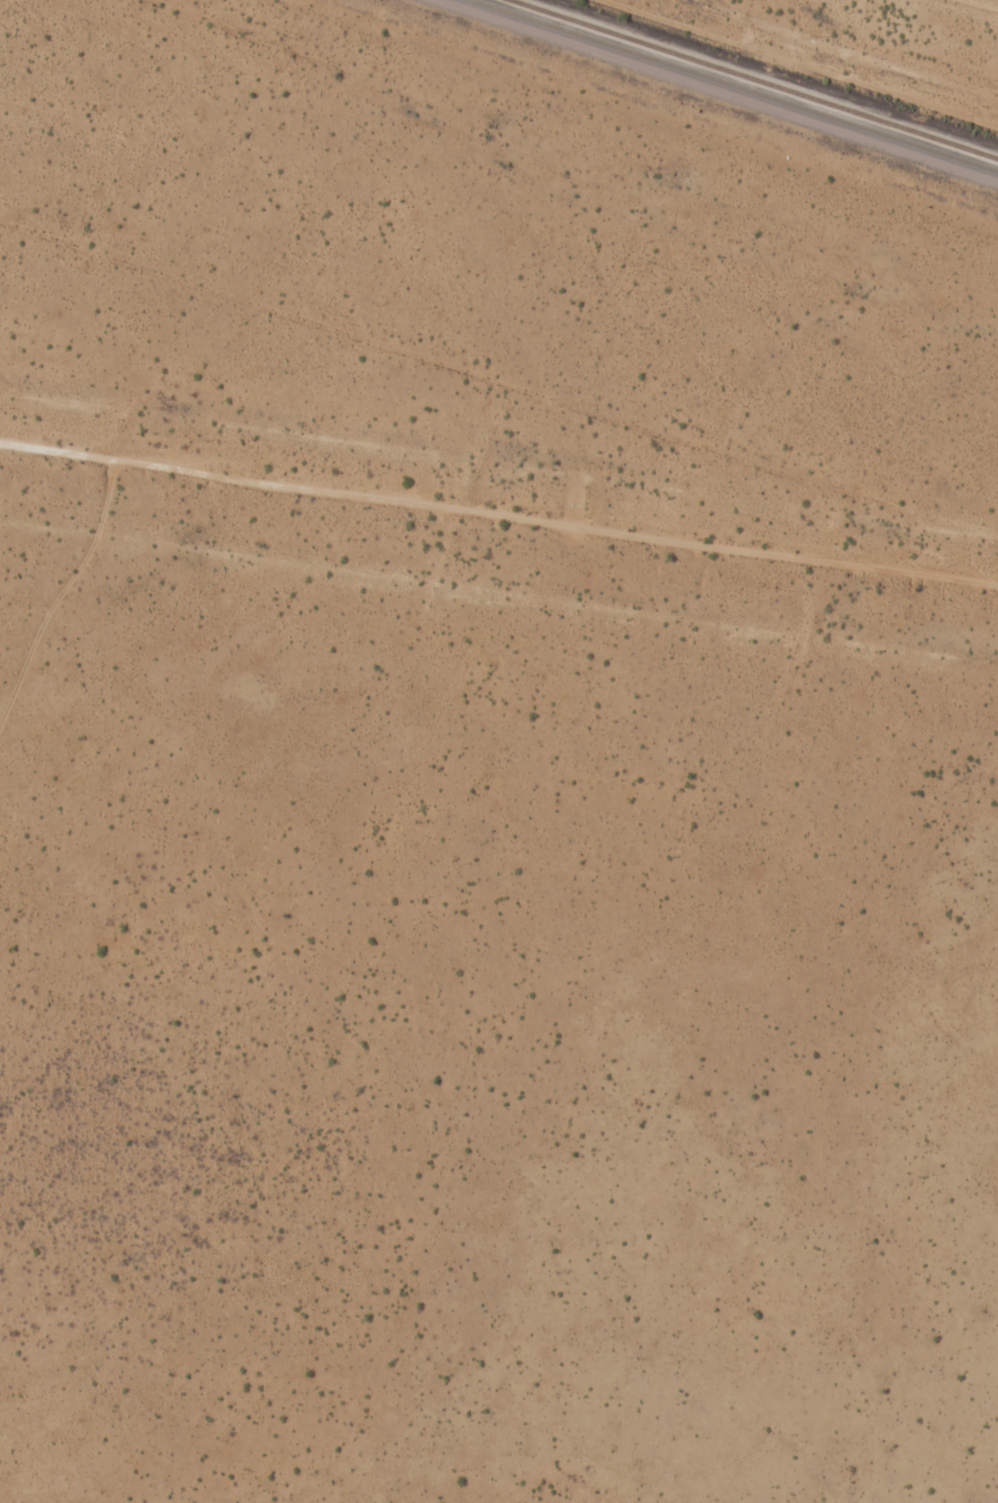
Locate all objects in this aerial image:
road: (848, 50)
railway: (756, 78)
railway: (738, 84)
road: (523, 140)
road: (499, 543)
road: (59, 653)

